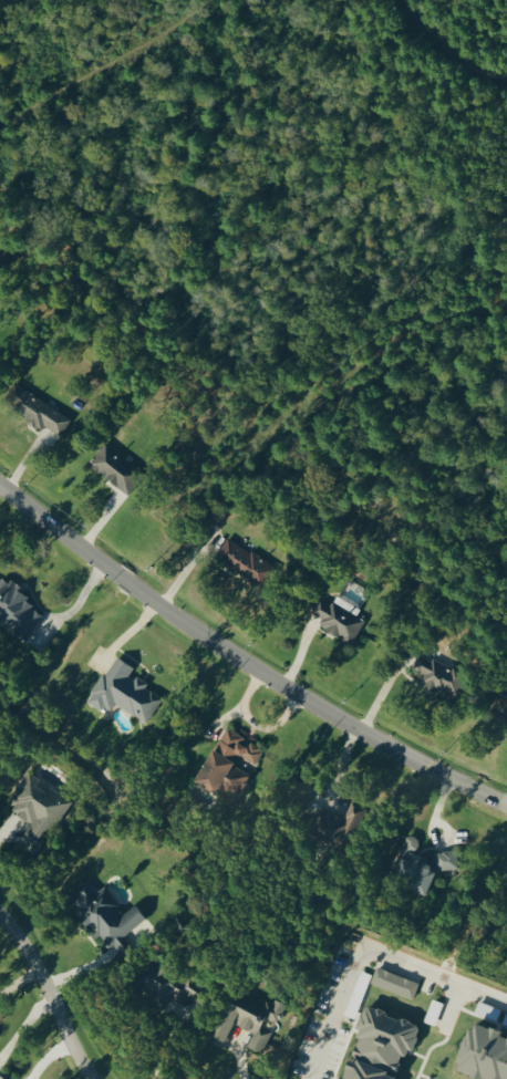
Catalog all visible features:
building: (34, 409)
building: (114, 468)
building: (244, 562)
building: (15, 610)
building: (338, 618)
road: (242, 662)
building: (437, 674)
building: (122, 691)
building: (499, 708)
road: (255, 723)
building: (506, 726)
building: (226, 762)
building: (297, 791)
building: (37, 808)
building: (338, 824)
building: (446, 860)
building: (412, 867)
building: (104, 915)
road: (369, 953)
building: (170, 982)
building: (393, 983)
road: (46, 997)
road: (452, 1004)
building: (505, 1018)
building: (247, 1020)
building: (377, 1046)
building: (483, 1054)
road: (246, 1066)
building: (4, 1076)

